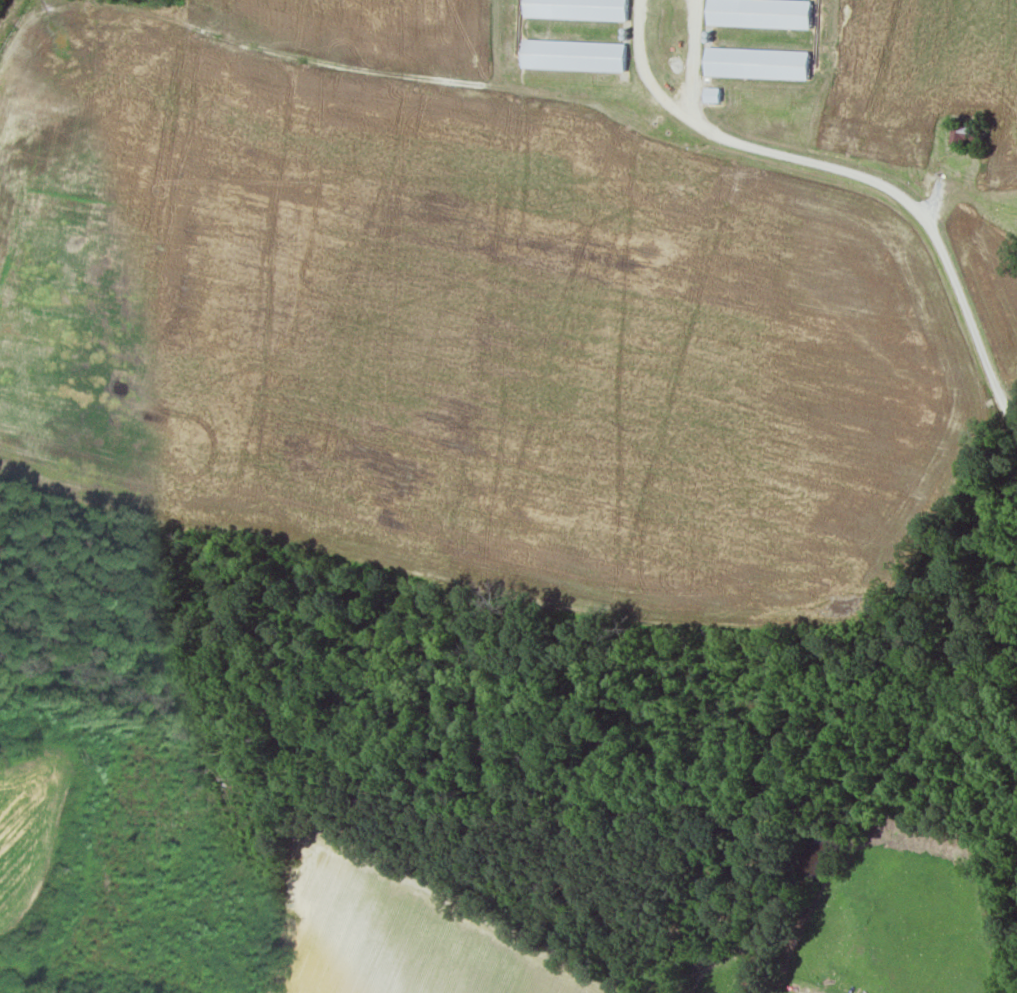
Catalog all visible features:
building: (575, 9)
building: (759, 12)
building: (572, 54)
road: (693, 56)
building: (756, 62)
road: (641, 63)
building: (710, 93)
road: (910, 204)

